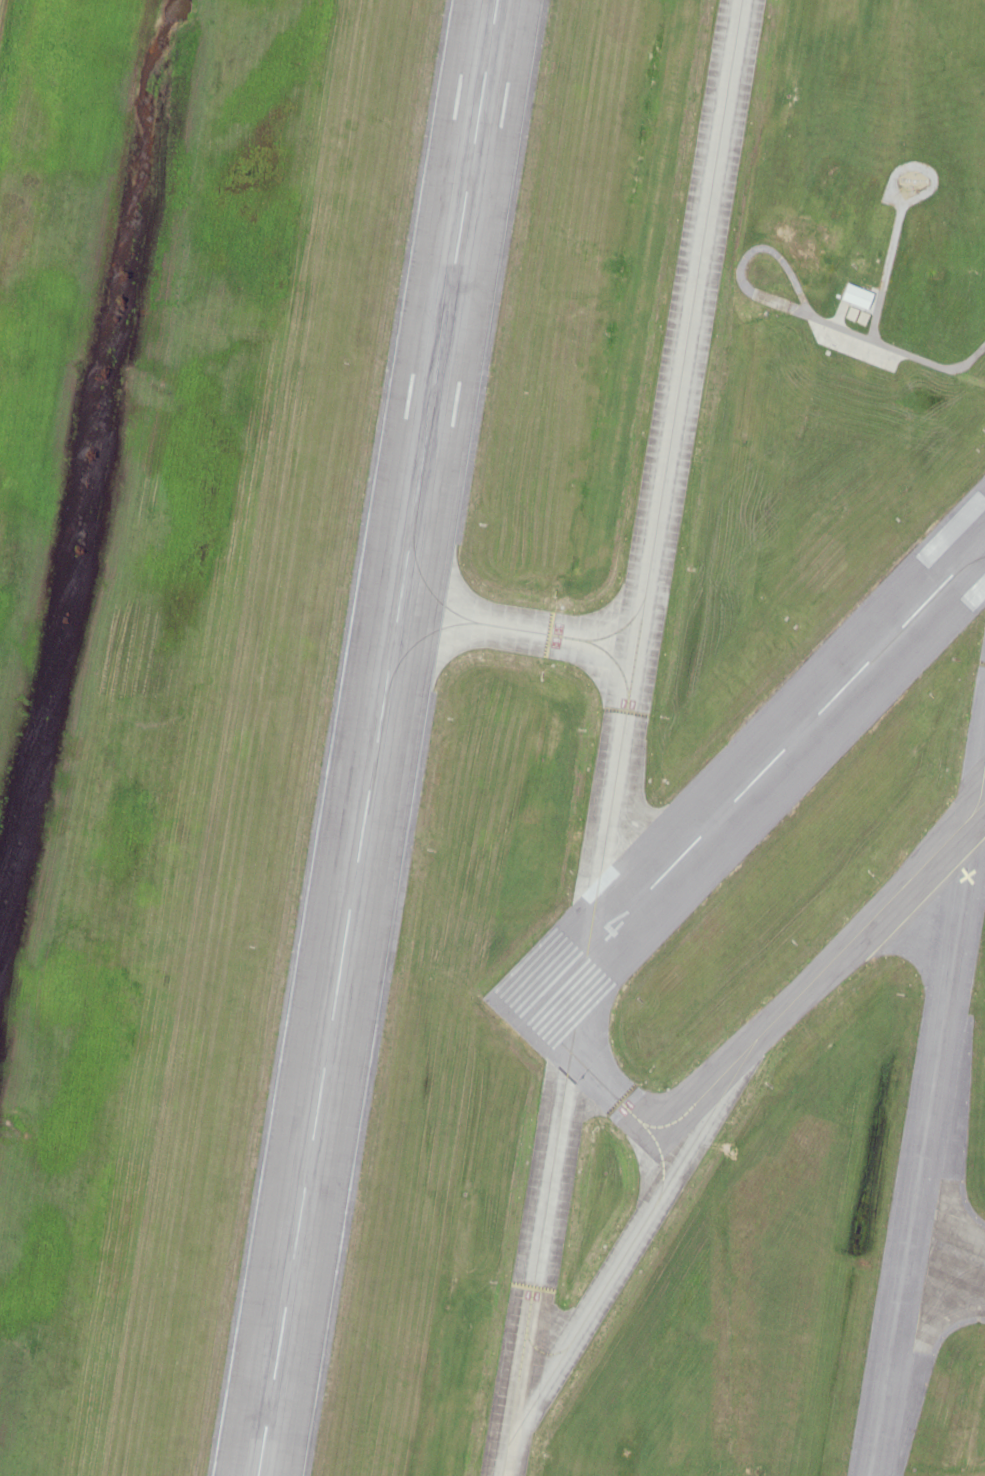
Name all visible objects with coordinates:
building: (817, 230)
building: (806, 252)
airport taxiway: (668, 475)
airport taxiway: (520, 628)
airport runway: (378, 738)
airport: (492, 738)
airport runway: (751, 784)
airport taxiway: (983, 795)
airport taxiway: (715, 1083)
airport taxiway: (606, 1087)
airport taxiway: (539, 1265)

